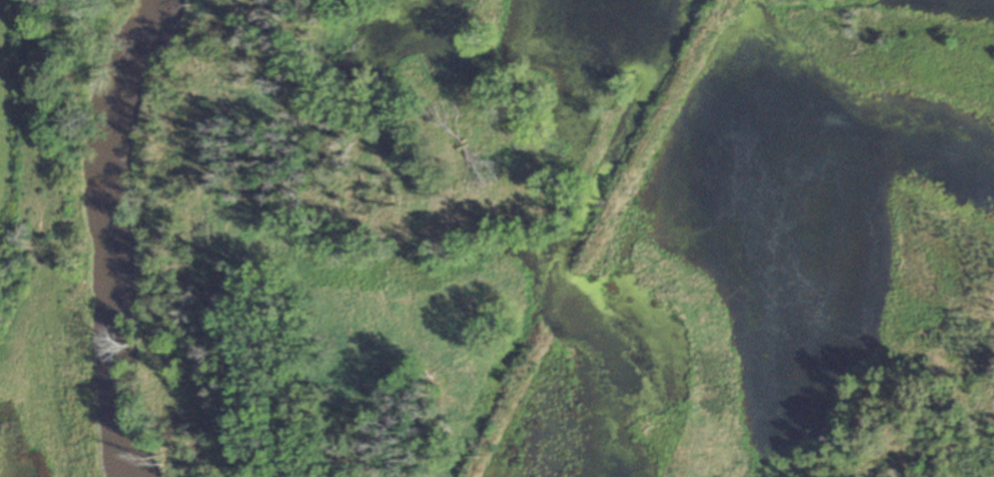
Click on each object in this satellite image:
river: (111, 234)

